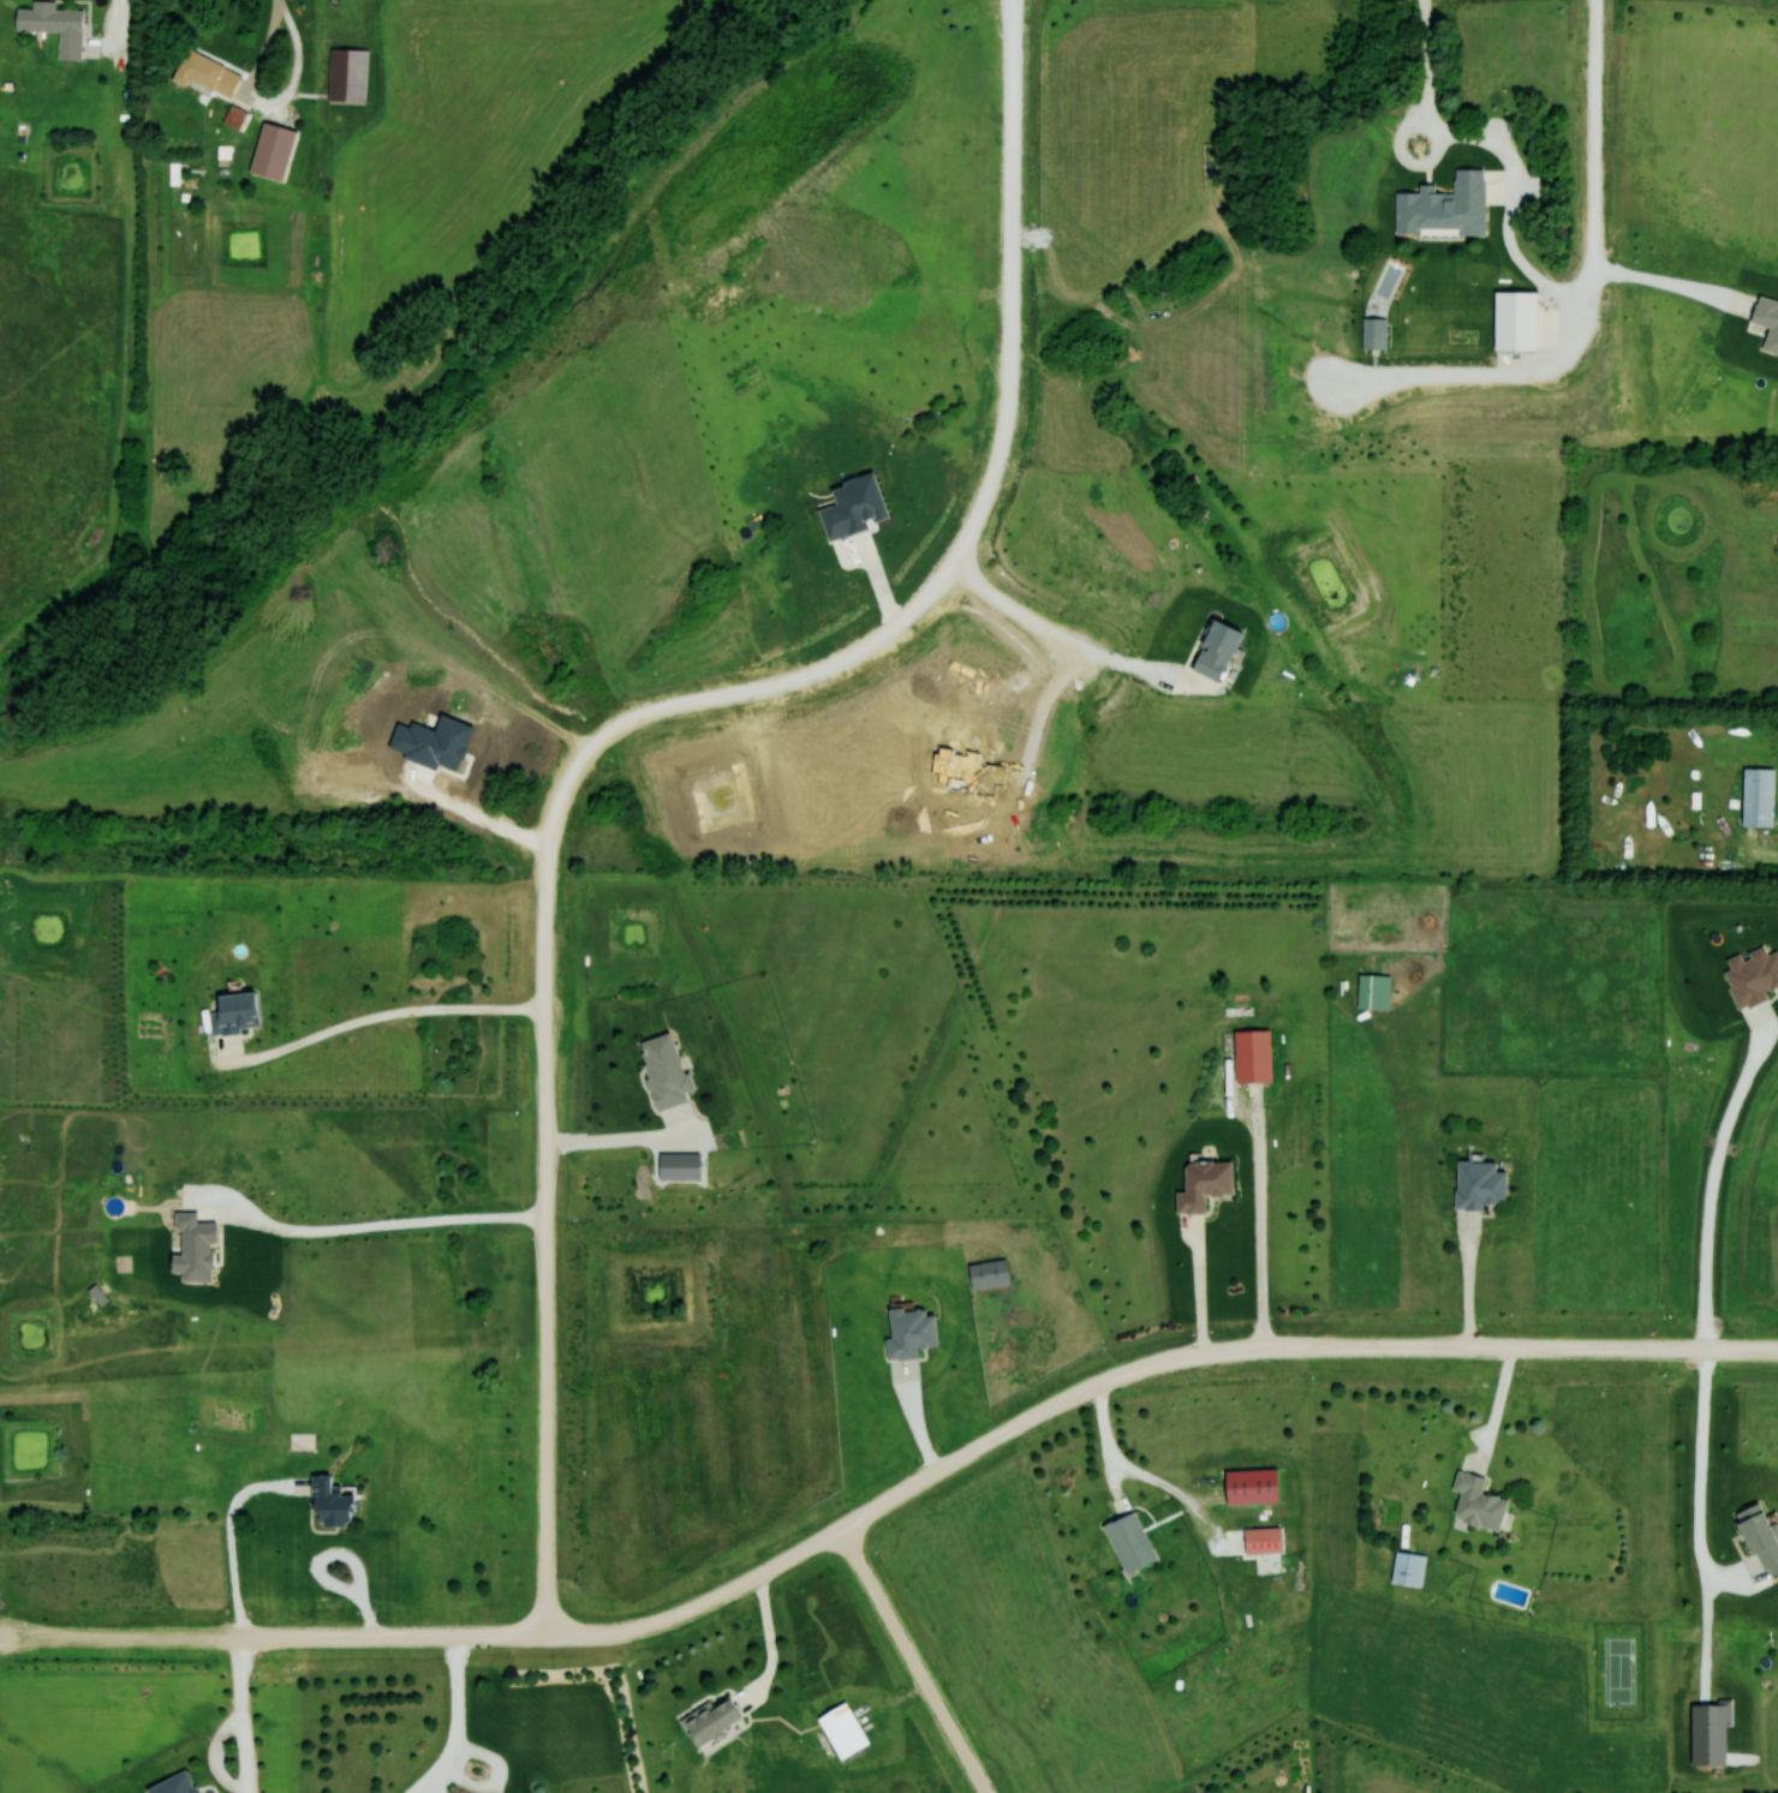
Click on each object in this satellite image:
building: (50, 25)
road: (117, 30)
building: (202, 73)
building: (344, 73)
road: (272, 107)
building: (234, 118)
road: (1486, 144)
building: (267, 150)
road: (1652, 275)
road: (1577, 282)
road: (955, 551)
road: (1013, 609)
road: (1140, 670)
building: (1755, 796)
building: (1371, 991)
road: (378, 1017)
building: (1248, 1056)
building: (661, 1070)
road: (1694, 1181)
building: (1199, 1183)
building: (1475, 1183)
road: (374, 1227)
road: (1245, 1229)
road: (547, 1254)
building: (985, 1273)
road: (1470, 1283)
road: (1182, 1286)
building: (906, 1332)
road: (1499, 1409)
road: (1684, 1456)
road: (1124, 1464)
building: (1248, 1487)
road: (890, 1500)
building: (328, 1502)
building: (1473, 1502)
road: (232, 1531)
building: (1259, 1541)
building: (1124, 1542)
building: (1406, 1570)
road: (912, 1662)
building: (706, 1720)
road: (244, 1759)
road: (454, 1759)

